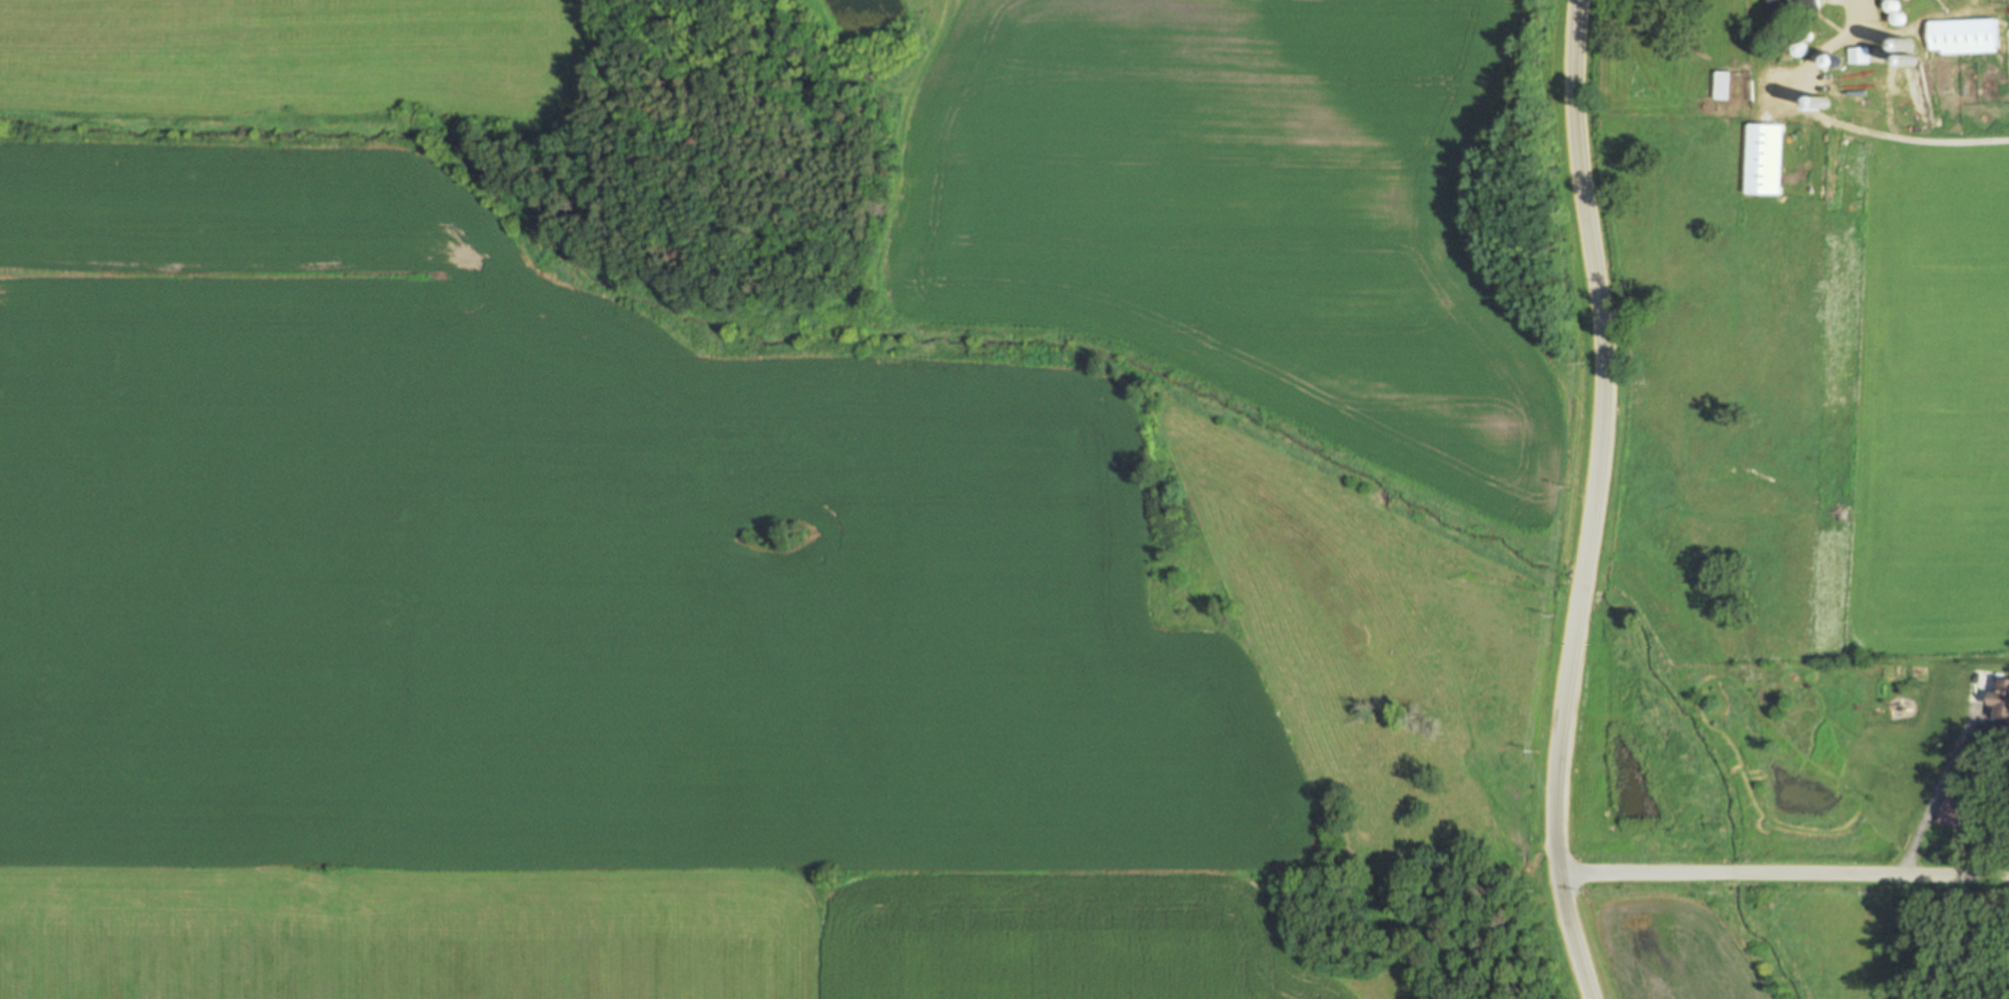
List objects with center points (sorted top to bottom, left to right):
building: (1942, 0)
building: (1793, 4)
road: (1993, 9)
road: (1924, 19)
building: (1967, 37)
road: (1866, 40)
building: (1726, 86)
building: (1768, 159)
road: (1596, 502)
building: (2003, 702)
road: (1942, 777)
building: (1955, 812)
road: (1783, 874)

